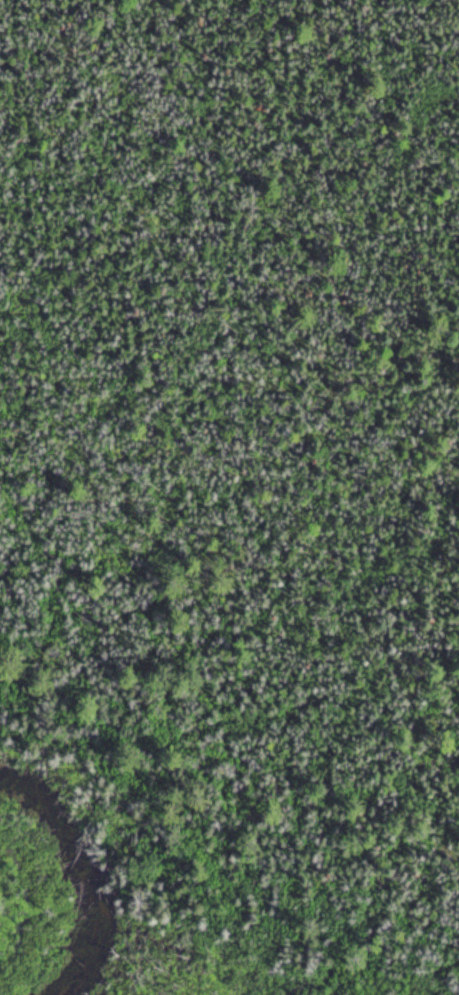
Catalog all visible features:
river: (87, 877)

